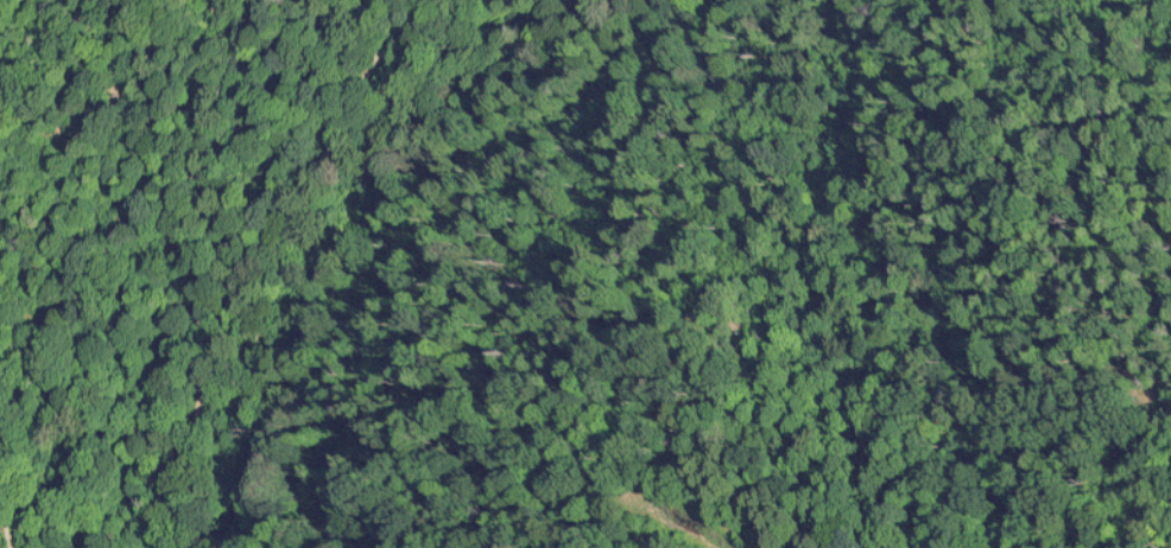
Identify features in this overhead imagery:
road: (268, 260)
road: (14, 490)

